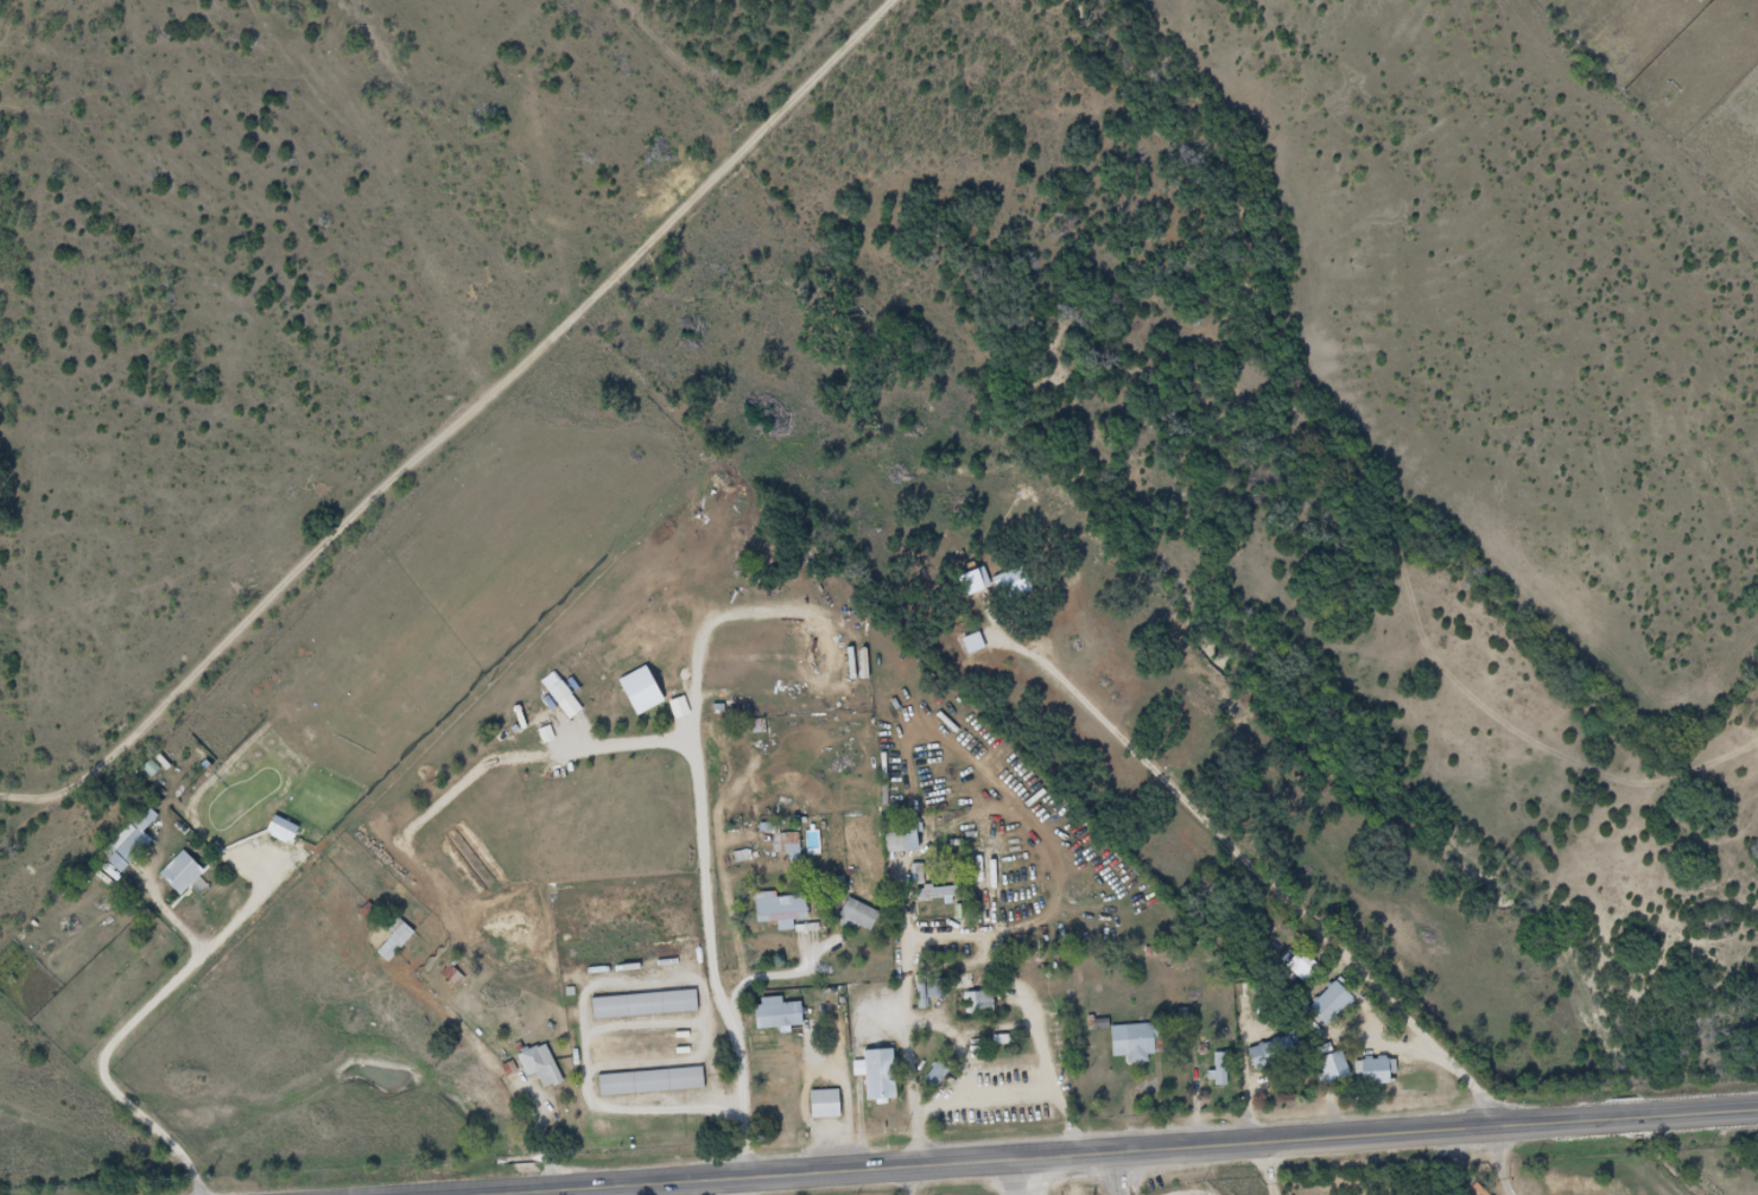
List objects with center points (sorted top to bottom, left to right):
road: (494, 406)
building: (1020, 585)
building: (556, 689)
building: (639, 692)
road: (546, 761)
road: (713, 841)
building: (900, 841)
building: (133, 843)
building: (786, 844)
building: (813, 844)
building: (180, 875)
road: (1269, 876)
building: (937, 894)
building: (780, 910)
building: (858, 915)
building: (393, 943)
building: (1305, 968)
building: (926, 990)
building: (980, 1003)
building: (1332, 1003)
building: (643, 1006)
road: (150, 1015)
building: (1132, 1043)
building: (1270, 1055)
building: (539, 1066)
building: (1334, 1068)
building: (1221, 1069)
building: (1376, 1073)
building: (876, 1075)
building: (650, 1083)
building: (824, 1105)
road: (1119, 1155)
road: (1477, 1165)
road: (202, 1170)
road: (1220, 1172)
road: (909, 1183)

